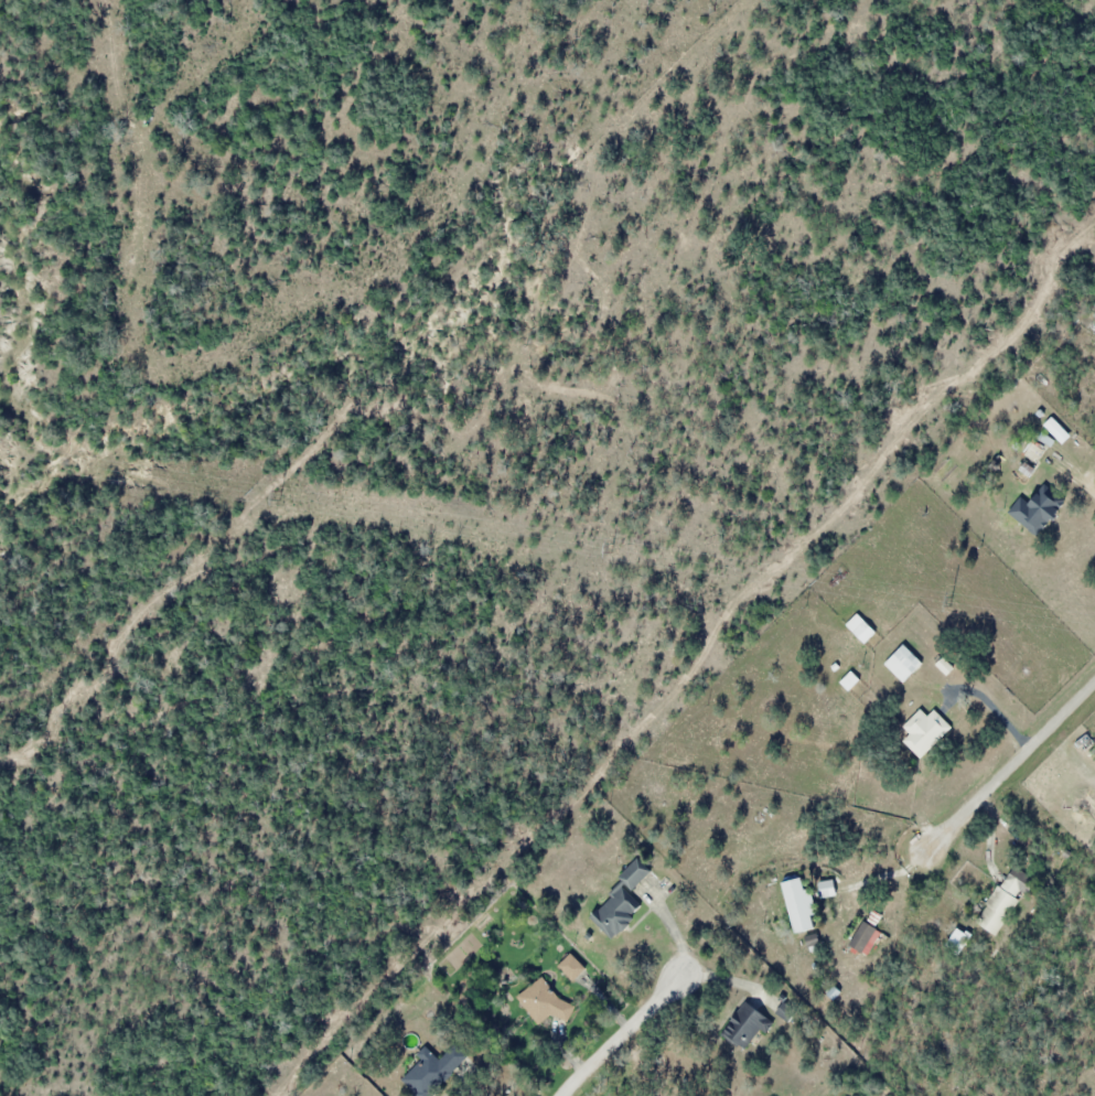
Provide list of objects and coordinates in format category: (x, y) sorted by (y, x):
building: (1059, 430)
building: (1040, 449)
power tower: (273, 492)
building: (1038, 511)
power tower: (612, 548)
power tower: (947, 600)
building: (861, 627)
building: (904, 663)
building: (925, 731)
road: (1008, 767)
building: (829, 889)
building: (1005, 902)
building: (622, 903)
building: (803, 904)
building: (573, 967)
building: (543, 1001)
building: (747, 1025)
road: (620, 1034)
building: (432, 1071)

